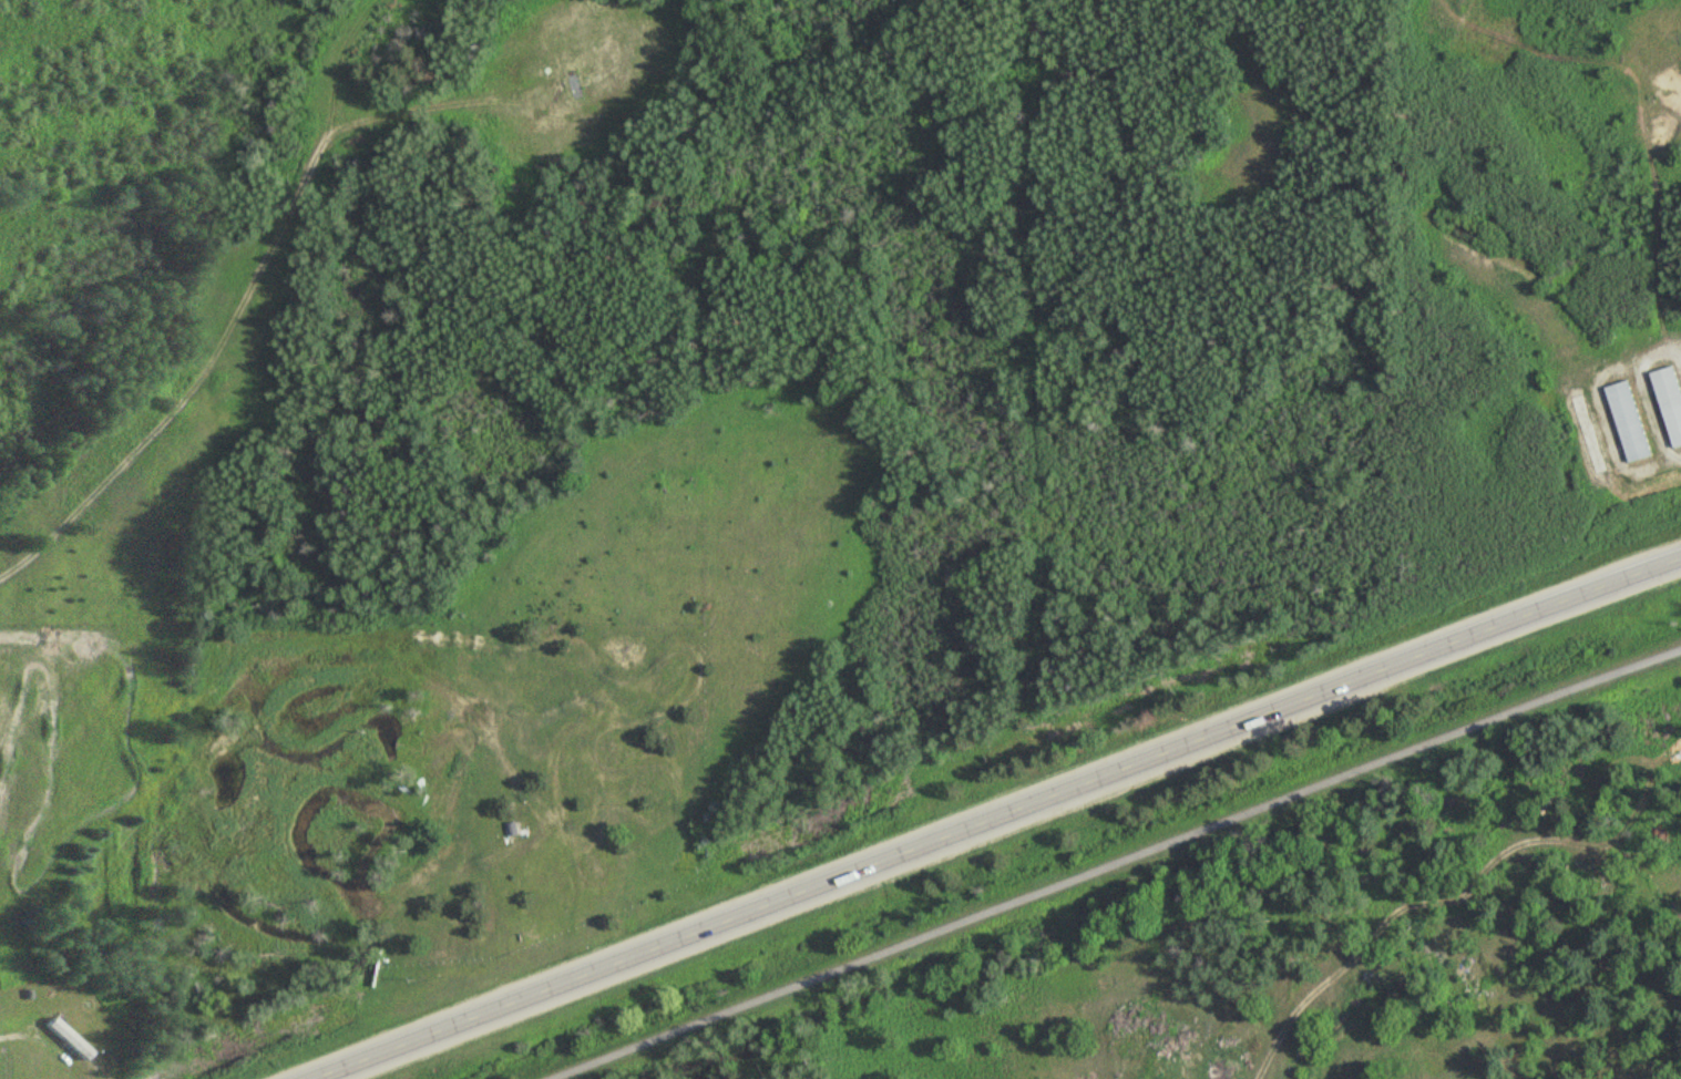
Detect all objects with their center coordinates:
building: (1671, 399)
building: (1630, 420)
road: (995, 816)
road: (1119, 863)
road: (1380, 926)
building: (29, 989)
road: (38, 1035)
building: (71, 1036)

